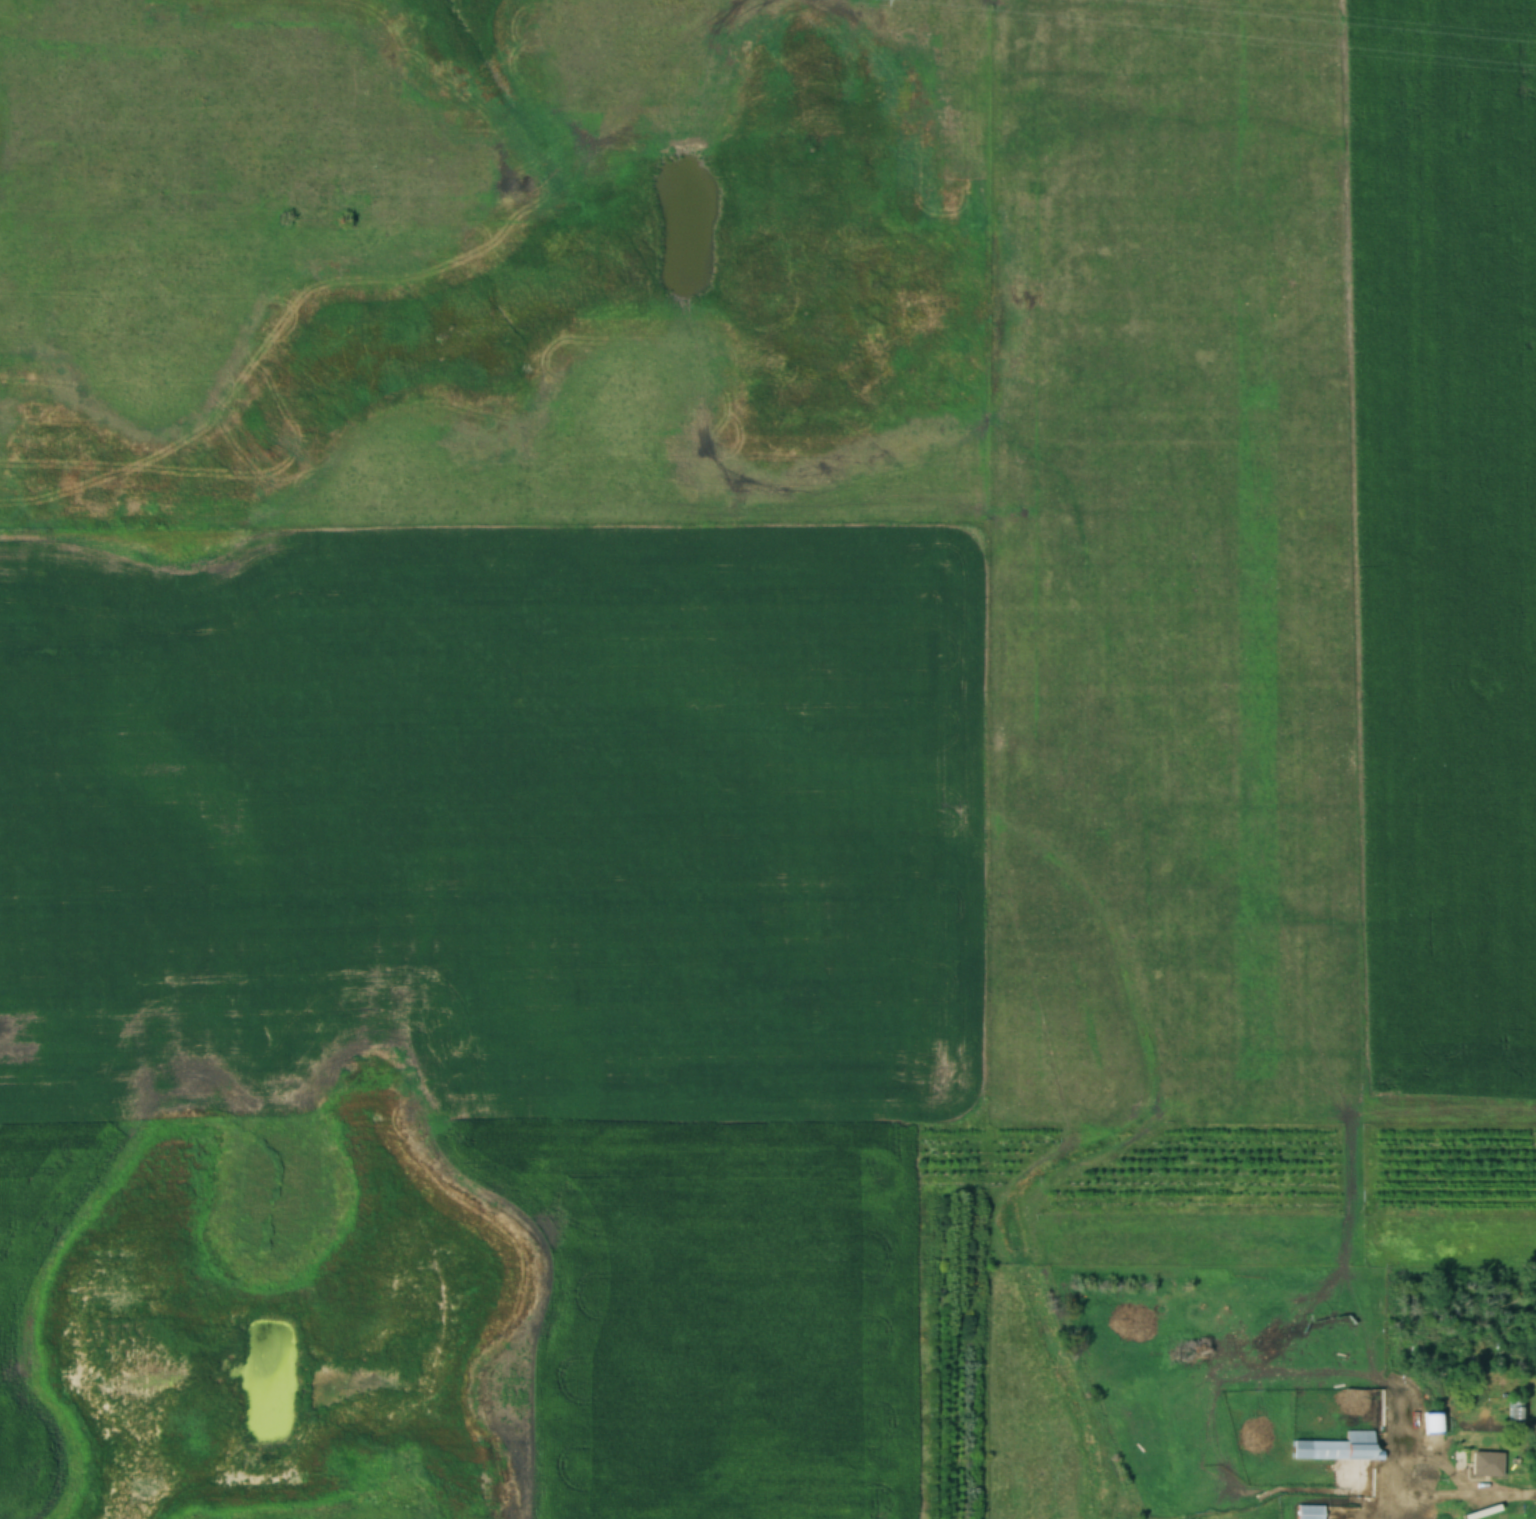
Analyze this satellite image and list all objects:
building: (1514, 1410)
building: (1336, 1448)
building: (1486, 1464)
road: (1504, 1494)
building: (1308, 1512)

